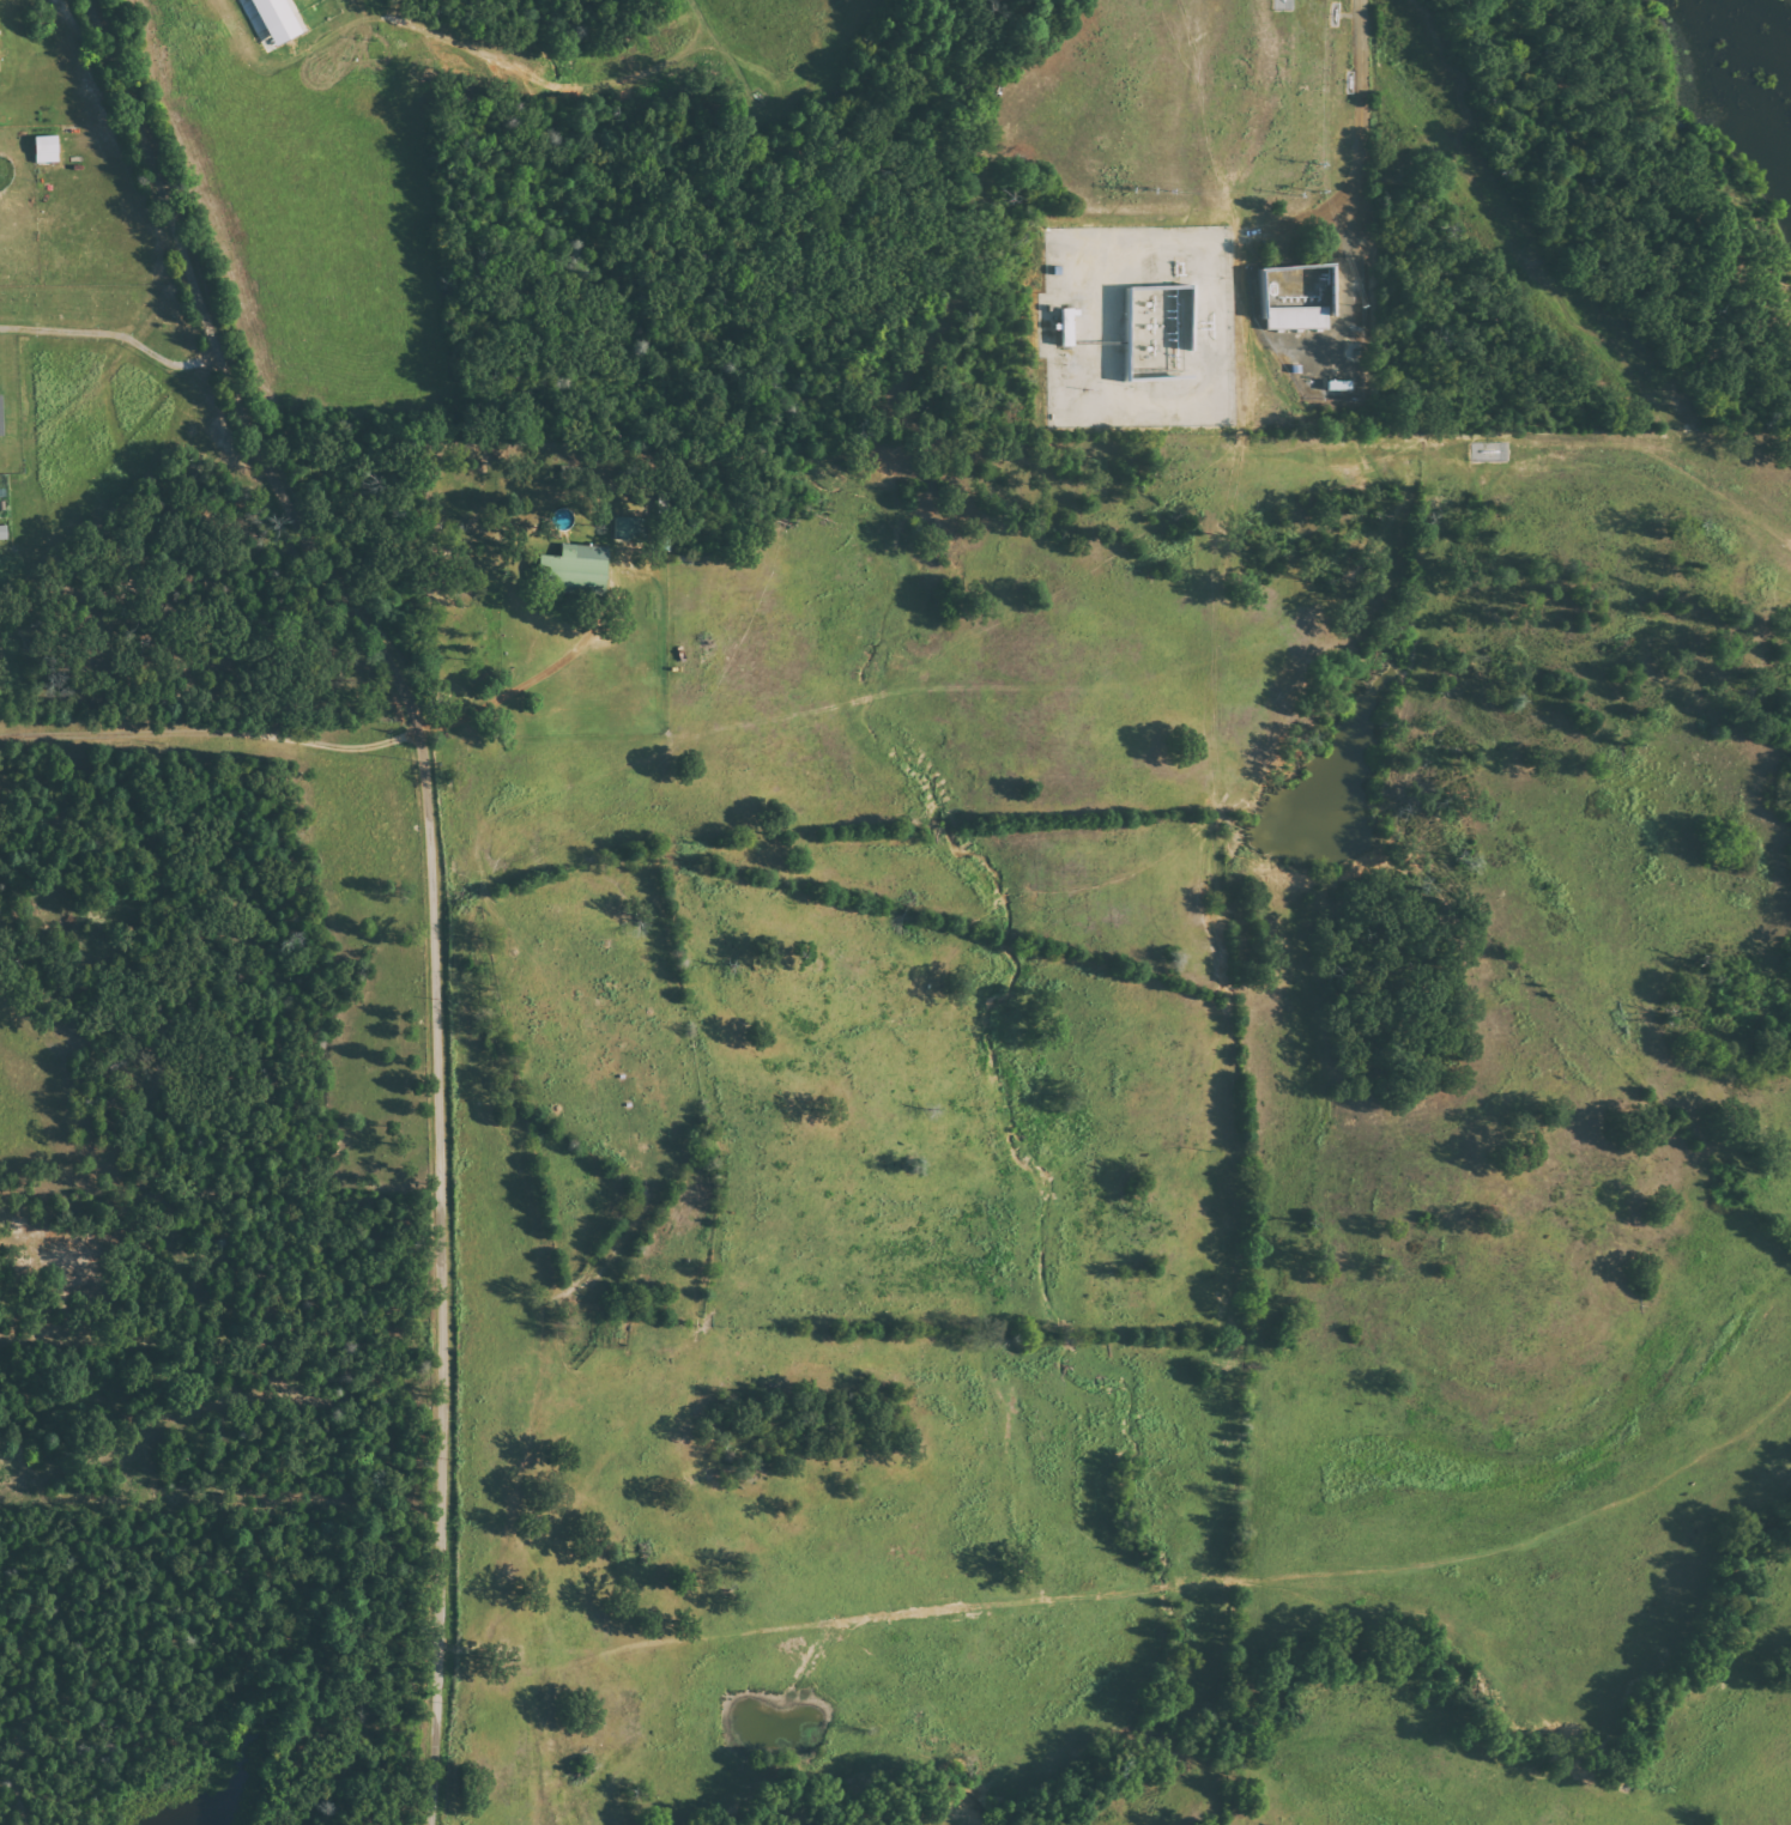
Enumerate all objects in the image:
building: (48, 150)
building: (1295, 311)
building: (1160, 331)
building: (1, 417)
building: (630, 528)
building: (4, 533)
road: (432, 871)

